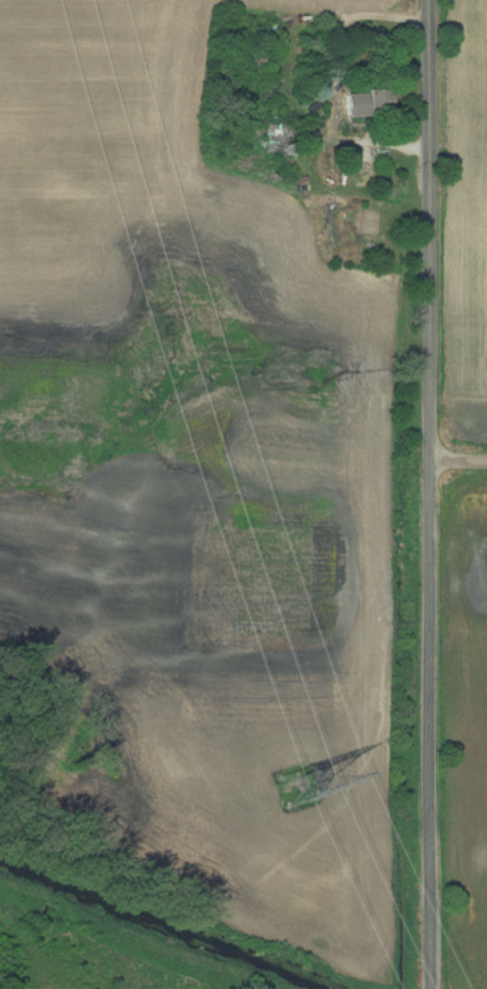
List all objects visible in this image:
building: (269, 30)
building: (369, 101)
building: (279, 138)
road: (459, 460)
road: (431, 494)
power tower: (297, 785)

